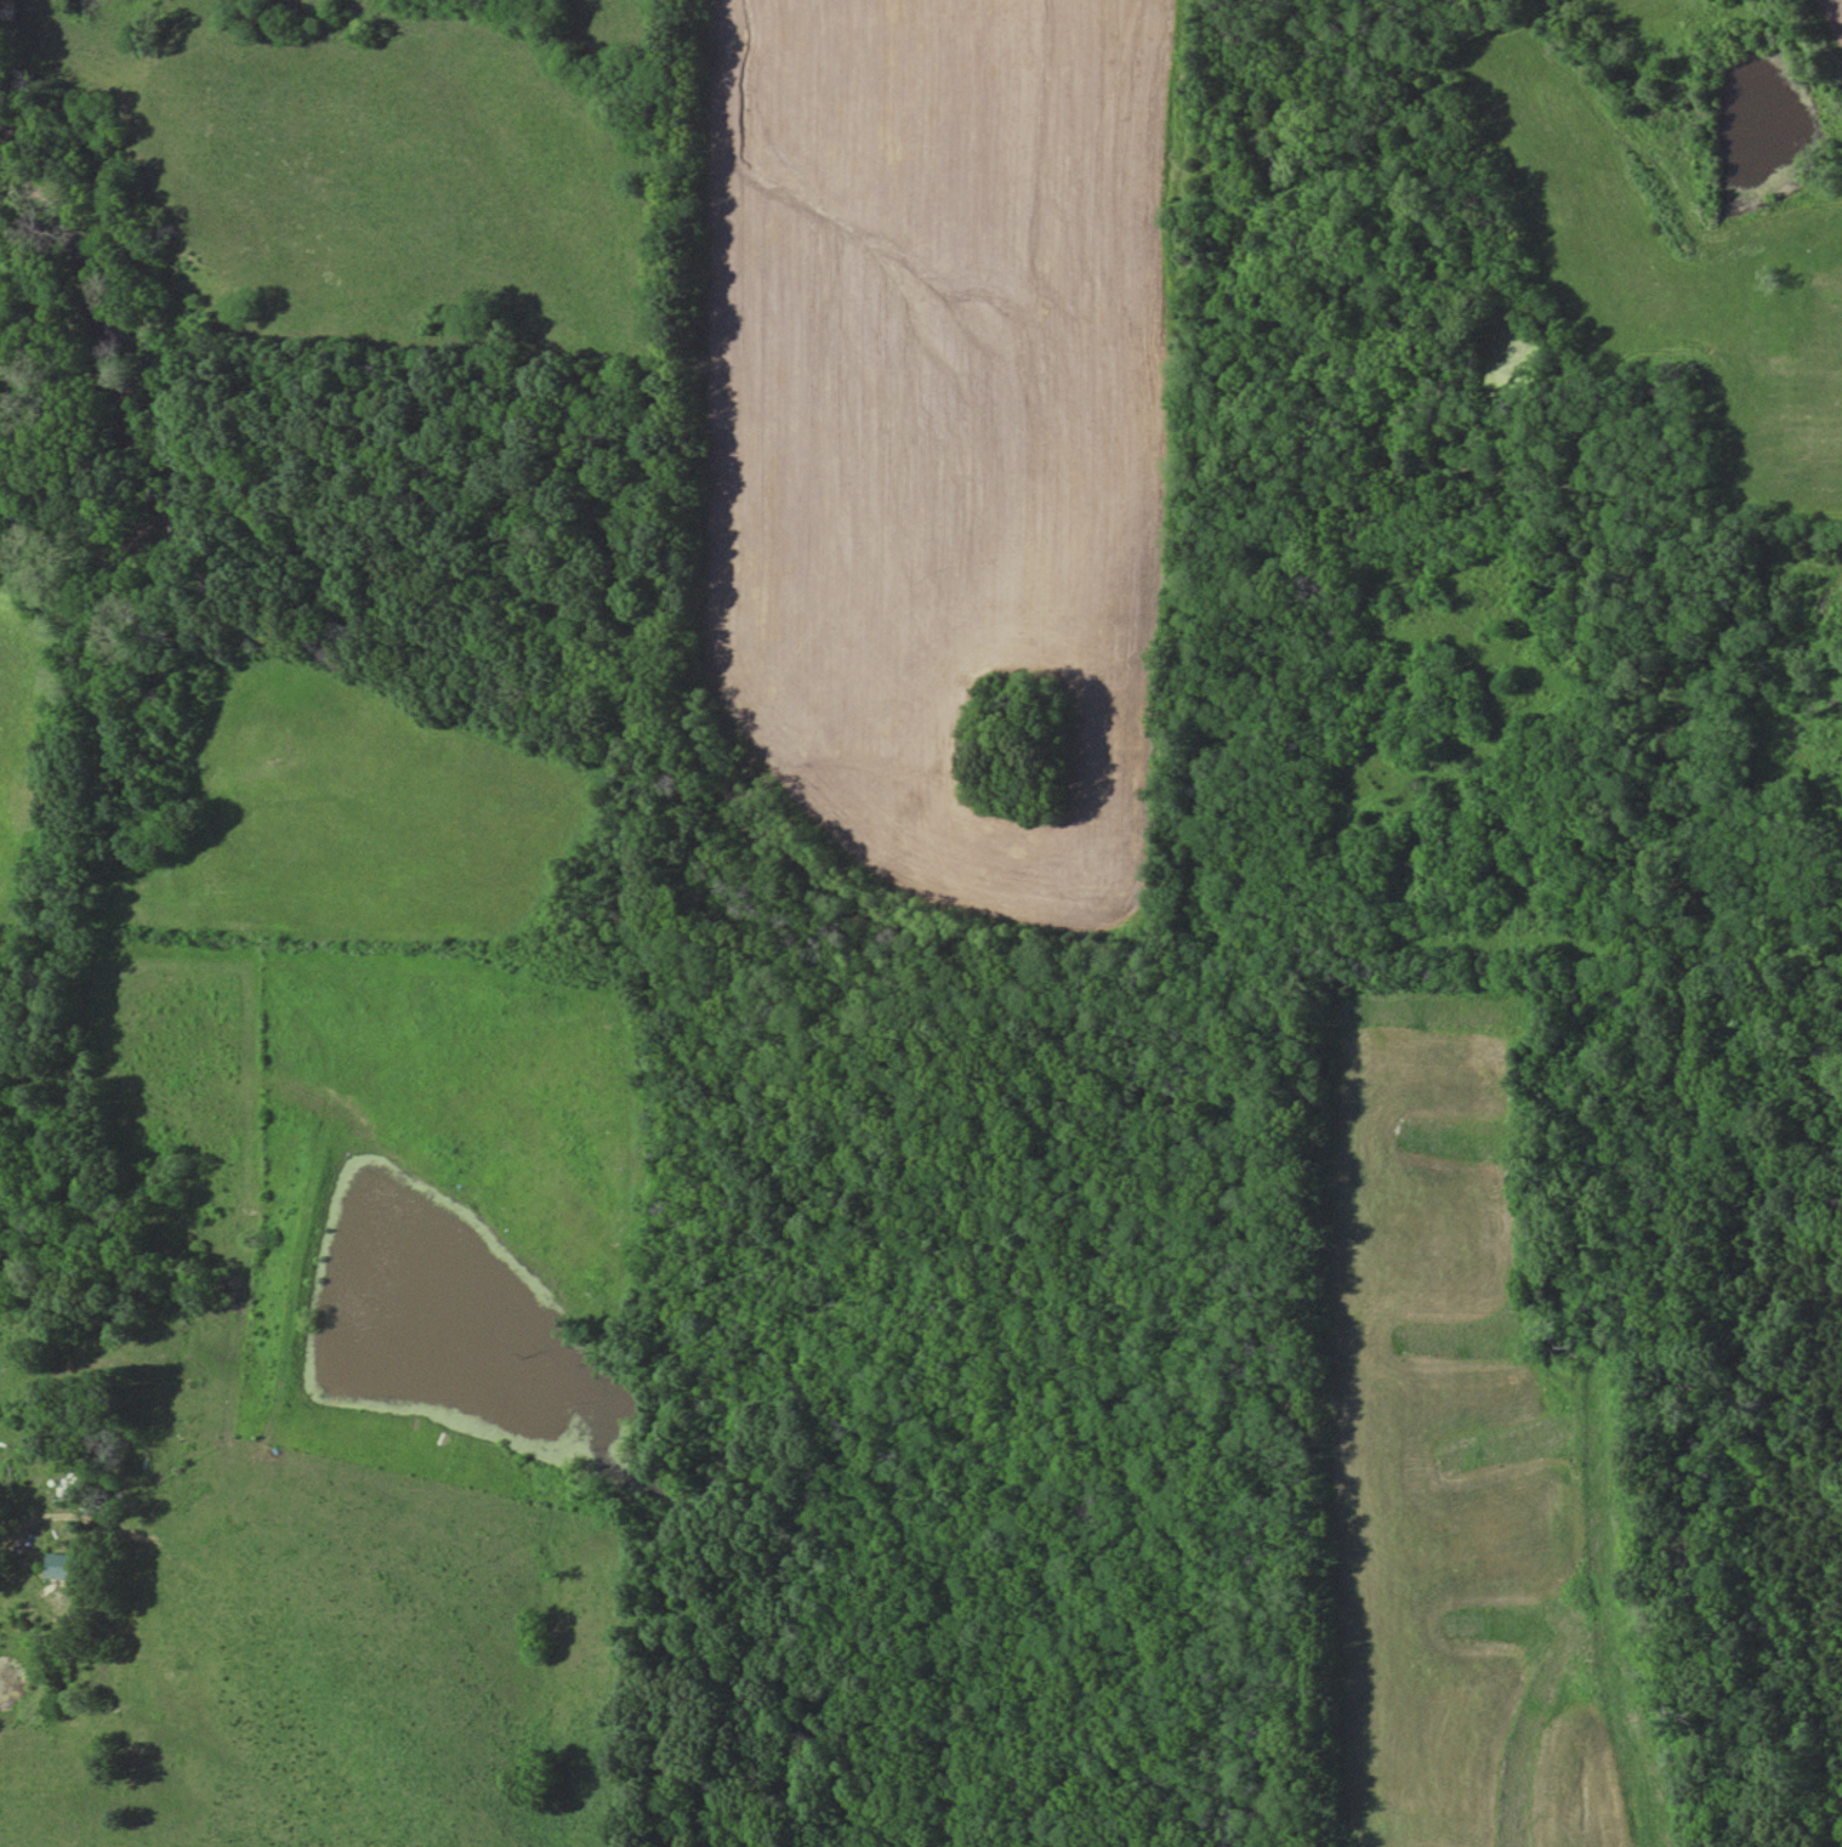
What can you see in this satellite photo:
river: (137, 408)
building: (36, 1482)
road: (38, 1516)
building: (72, 1565)

